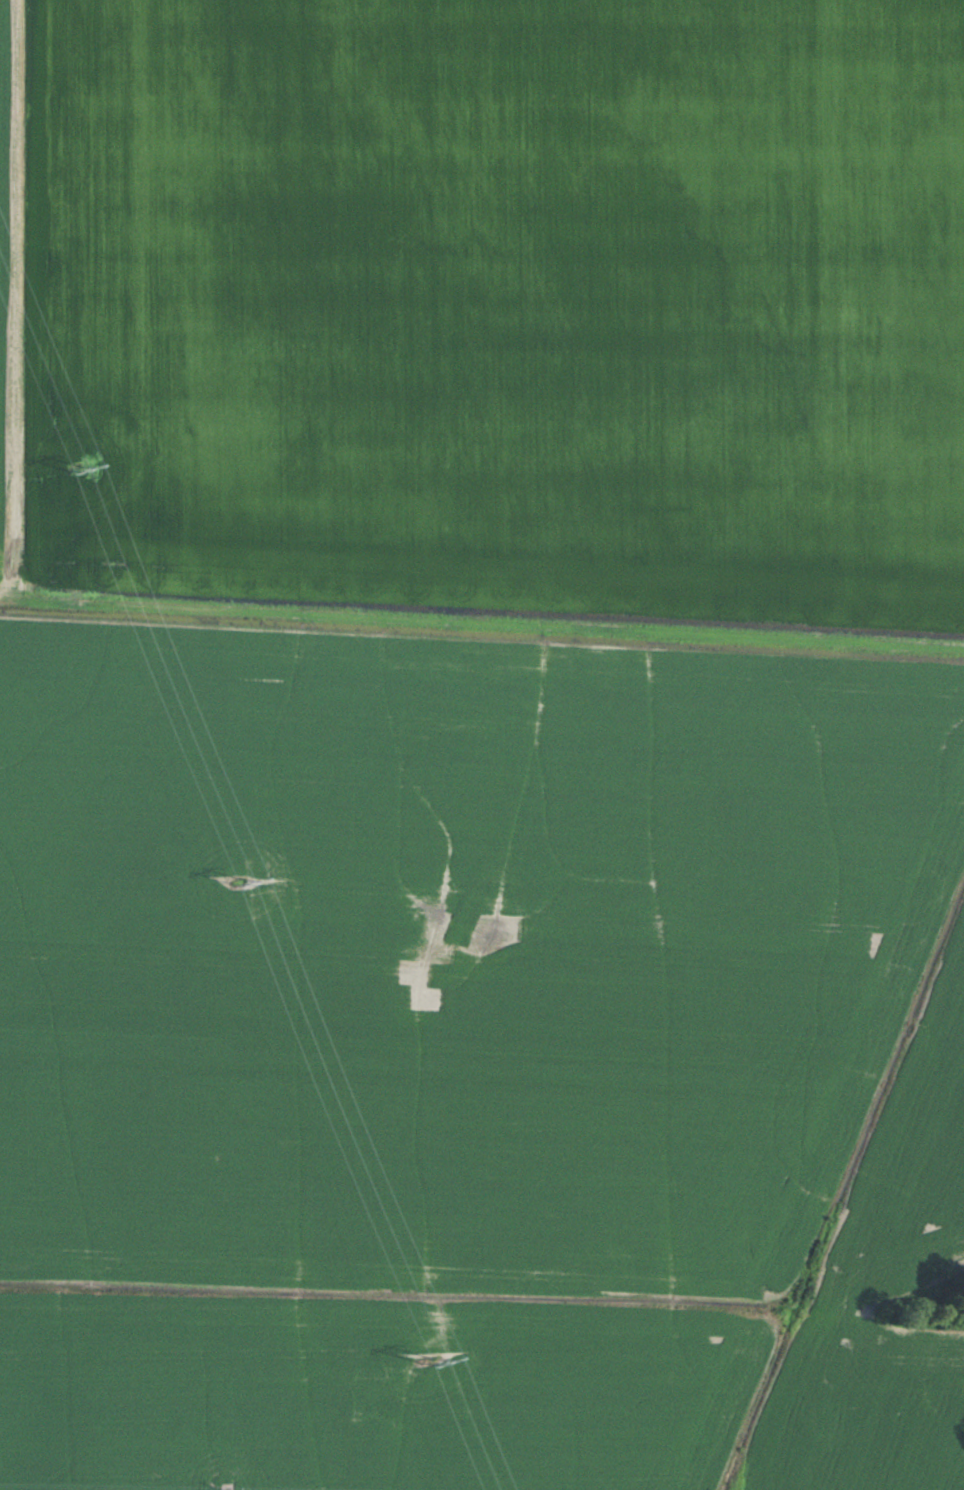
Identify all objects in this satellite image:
power tower: (75, 464)
power tower: (241, 877)
power tower: (430, 1357)

